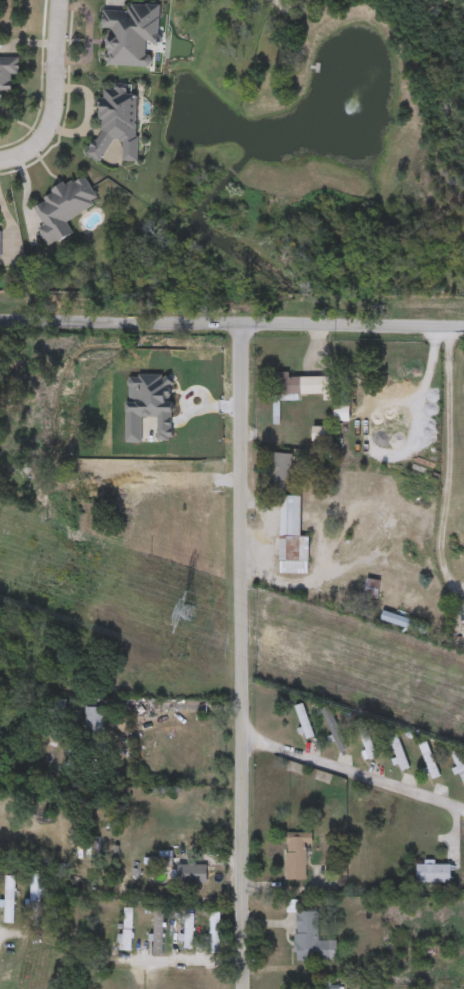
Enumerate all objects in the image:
building: (130, 36)
road: (57, 75)
building: (7, 76)
building: (118, 121)
road: (21, 156)
building: (64, 209)
building: (0, 231)
road: (231, 322)
building: (296, 385)
road: (399, 451)
building: (282, 473)
building: (293, 537)
building: (373, 585)
power tower: (188, 613)
building: (405, 623)
road: (244, 655)
building: (56, 708)
building: (304, 721)
building: (335, 729)
building: (95, 730)
building: (366, 740)
building: (398, 751)
building: (430, 761)
building: (459, 763)
road: (354, 774)
building: (95, 849)
building: (296, 857)
building: (192, 874)
building: (434, 875)
building: (35, 898)
building: (9, 900)
building: (128, 929)
building: (189, 931)
building: (216, 933)
building: (313, 940)
road: (2, 946)
road: (183, 958)
building: (326, 983)
building: (103, 985)

